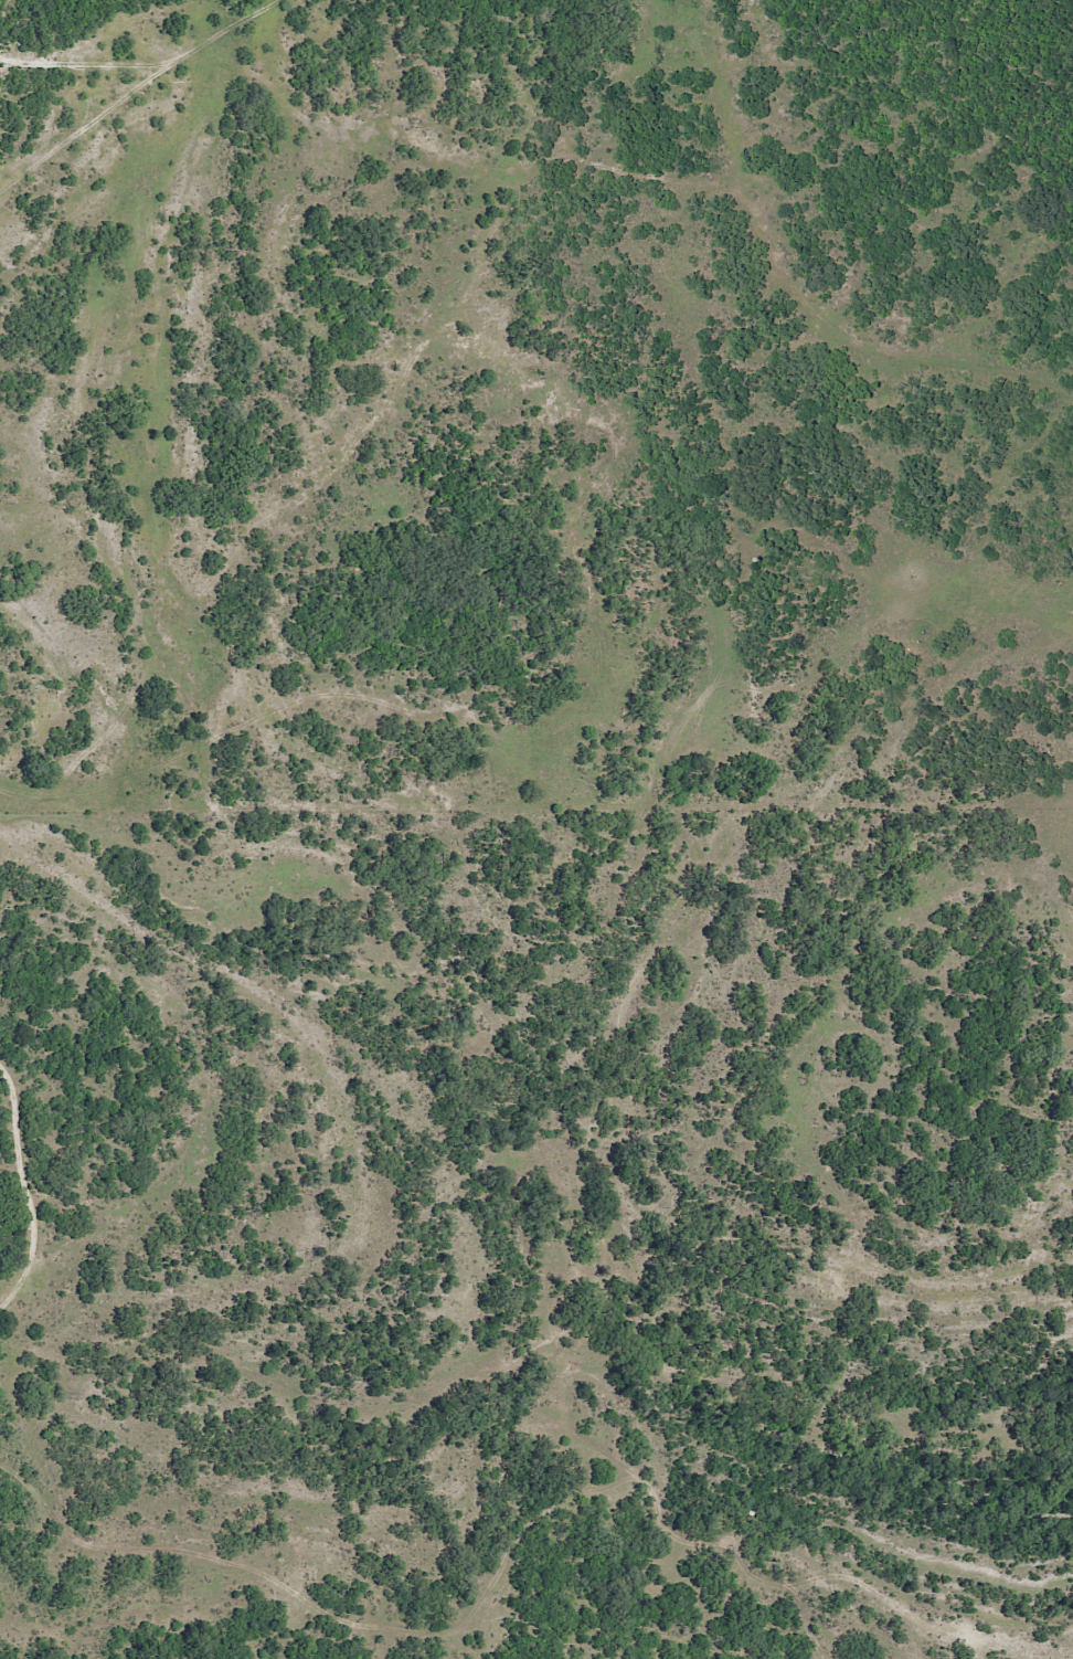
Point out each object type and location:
road: (262, 39)
road: (106, 135)
road: (669, 191)
road: (40, 1190)

